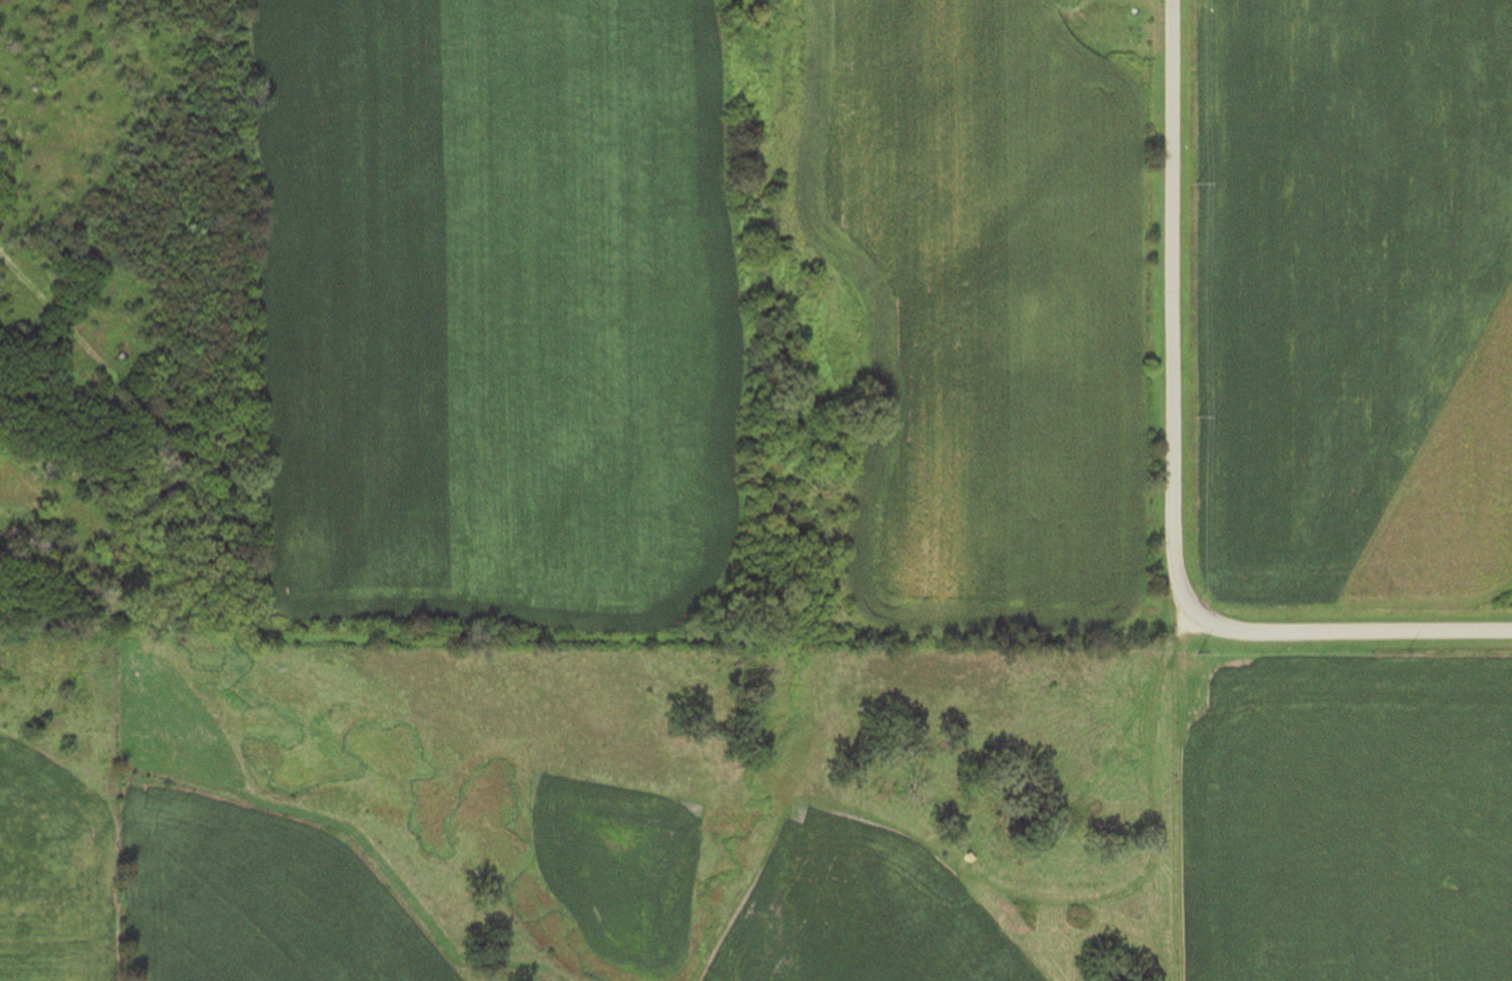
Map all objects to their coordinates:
road: (1180, 467)

